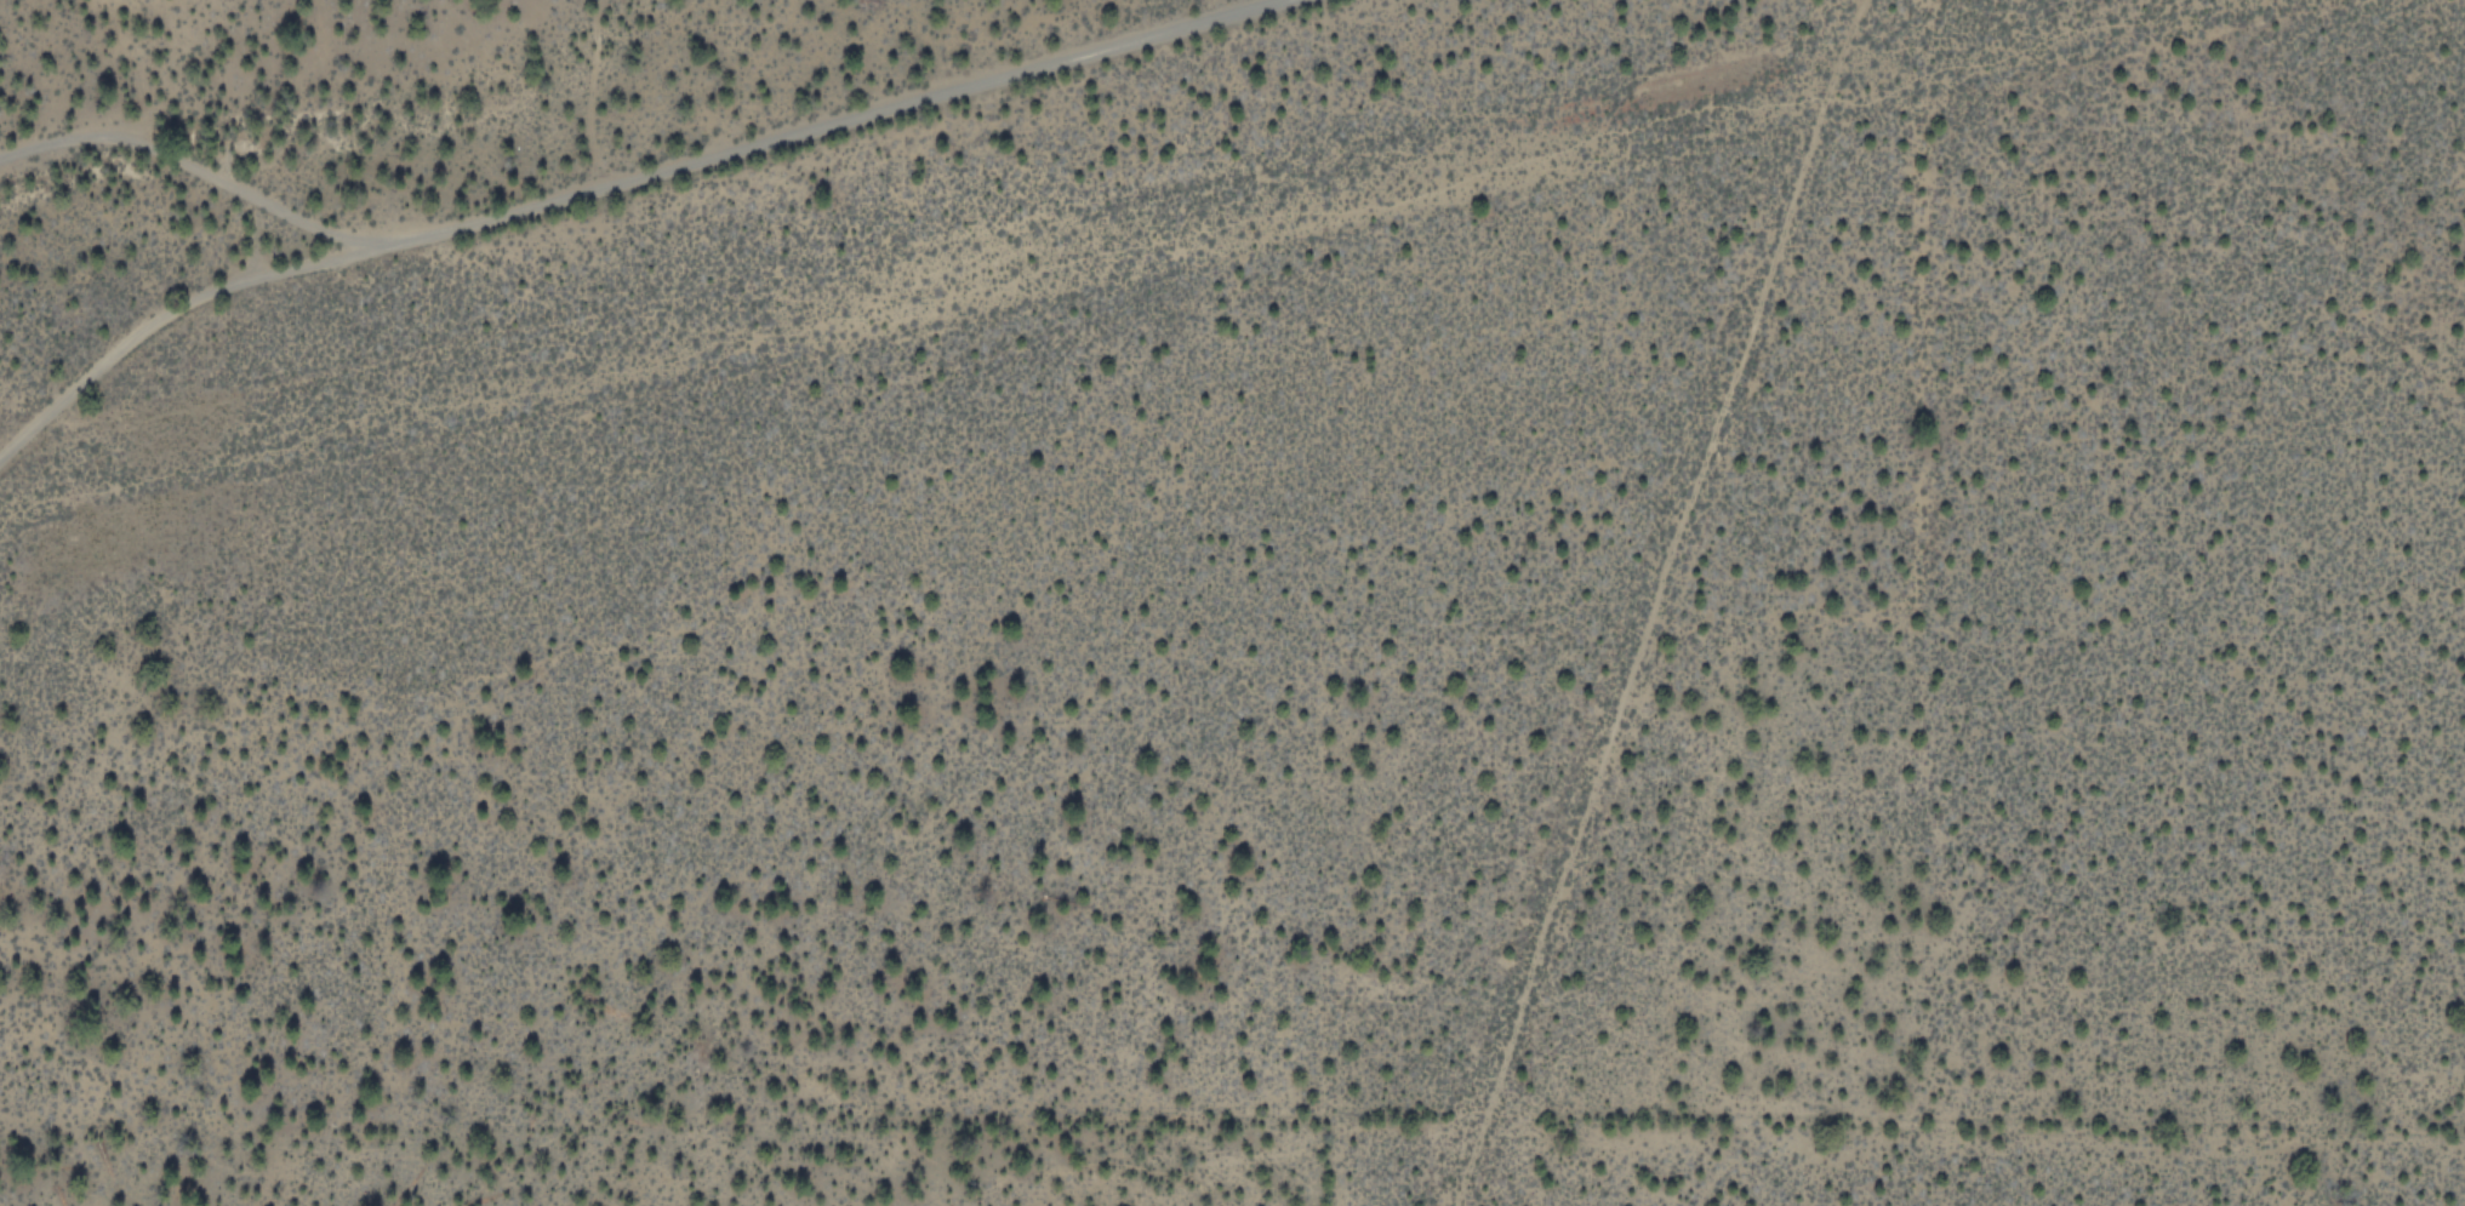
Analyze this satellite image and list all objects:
road: (190, 170)
road: (624, 182)
airport runway: (1189, 230)
airport runway: (1659, 602)

